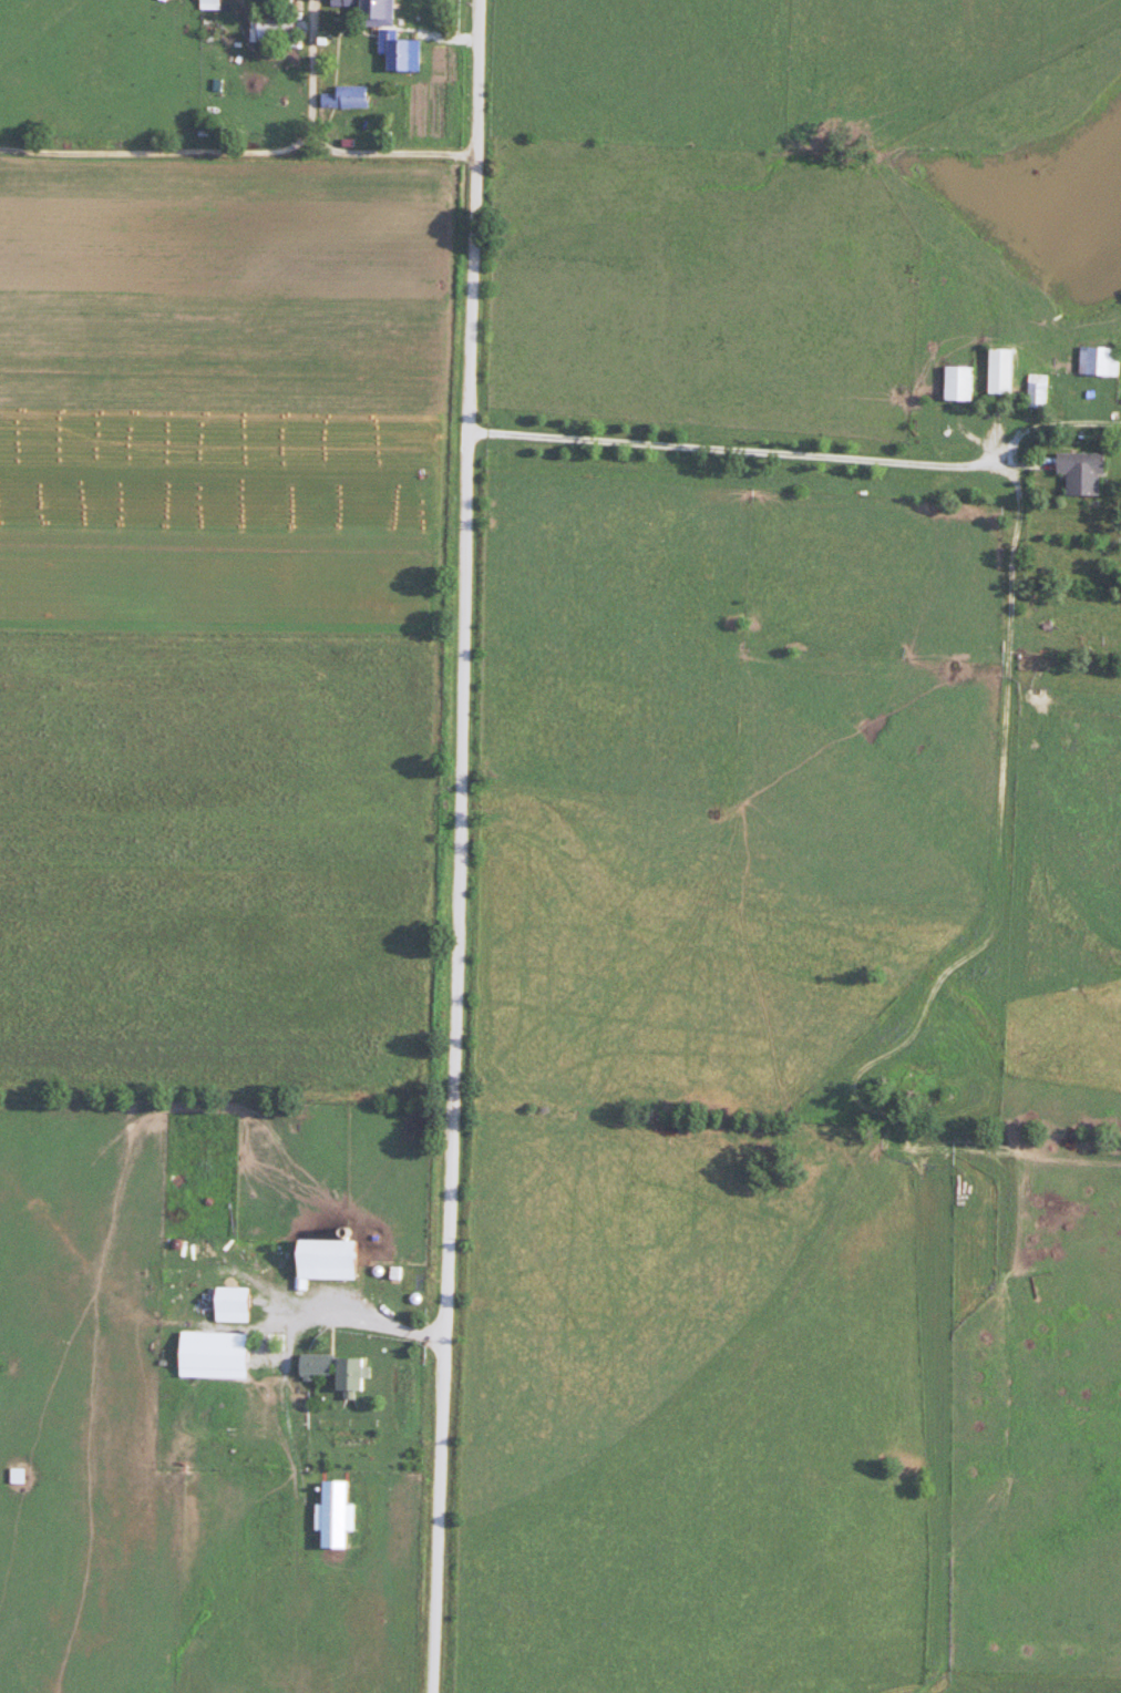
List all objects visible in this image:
building: (210, 3)
building: (377, 11)
building: (275, 25)
road: (309, 69)
building: (353, 96)
road: (240, 154)
building: (1100, 361)
building: (1000, 371)
building: (958, 383)
building: (1038, 390)
road: (1045, 430)
building: (1081, 472)
road: (1015, 510)
road: (461, 847)
building: (186, 1181)
building: (218, 1249)
building: (338, 1260)
building: (243, 1304)
road: (378, 1321)
building: (349, 1375)
building: (24, 1475)

